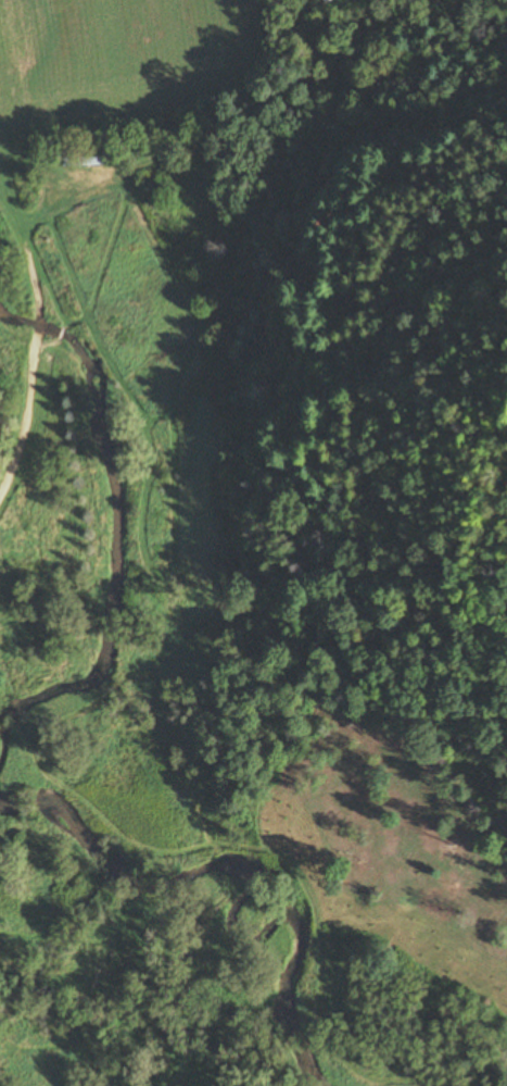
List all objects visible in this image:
road: (27, 495)

